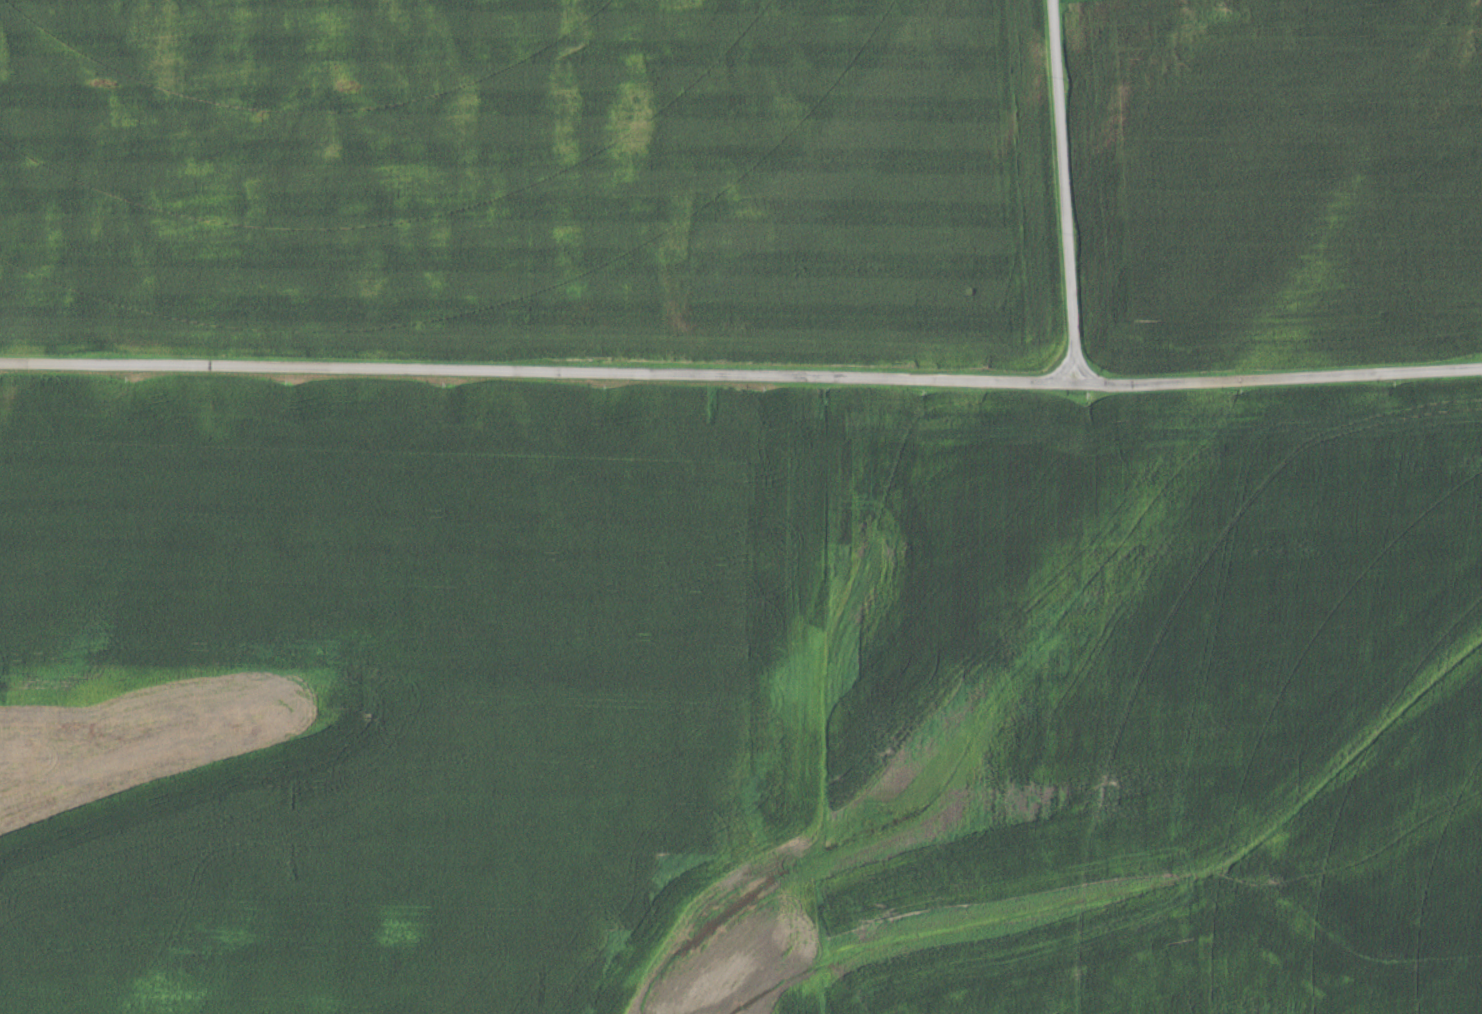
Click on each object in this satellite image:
road: (1062, 190)
road: (537, 370)
road: (1278, 377)

